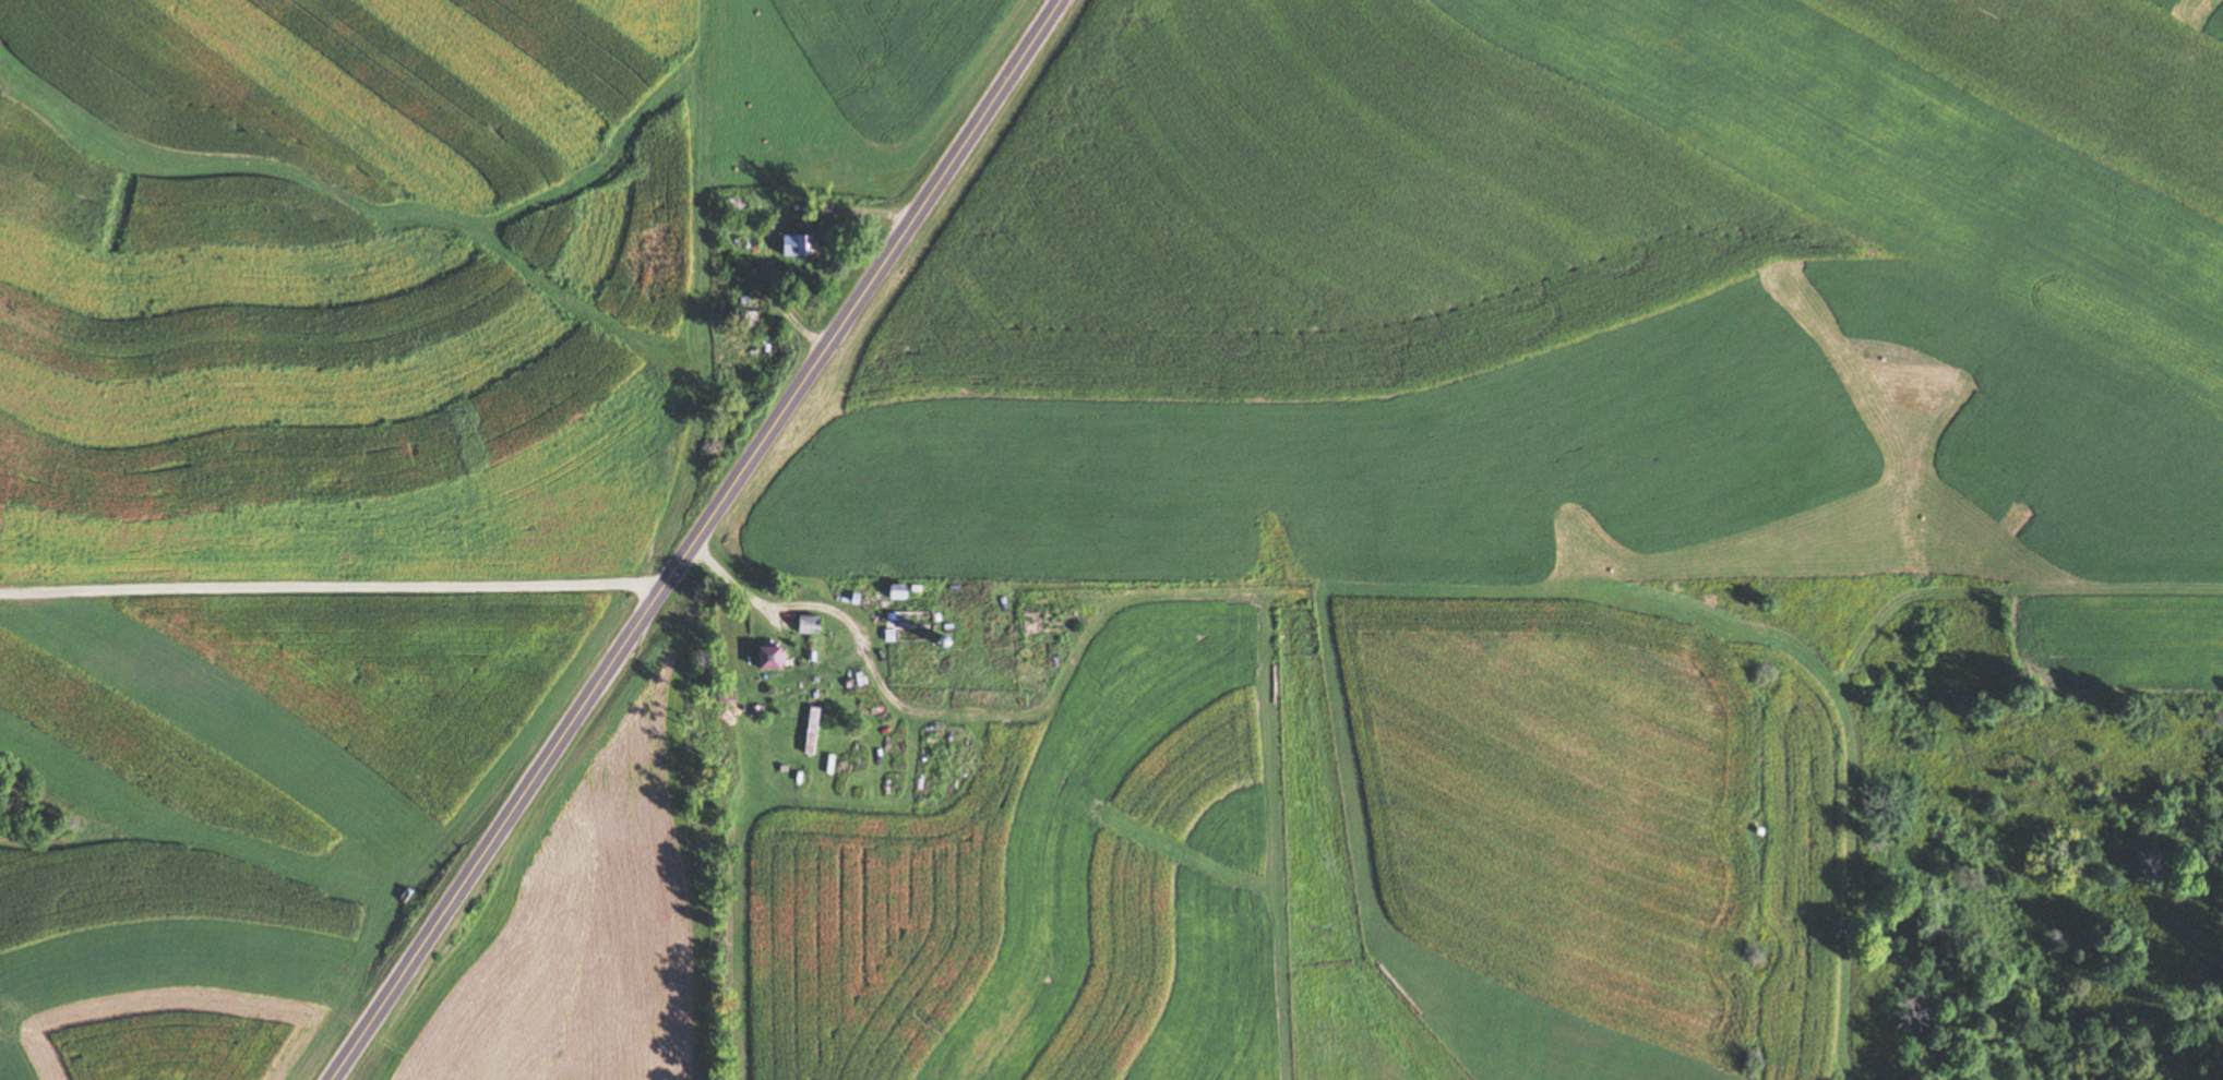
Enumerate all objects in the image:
crop: (1004, 13)
crop: (642, 24)
building: (649, 47)
crop: (1748, 205)
building: (793, 245)
crop: (331, 287)
building: (749, 320)
road: (692, 542)
road: (327, 599)
building: (1044, 620)
building: (805, 624)
building: (907, 626)
road: (847, 634)
crop: (2119, 635)
building: (765, 658)
building: (728, 729)
crop: (229, 817)
crop: (1589, 833)
crop: (1051, 889)
crop: (577, 920)

